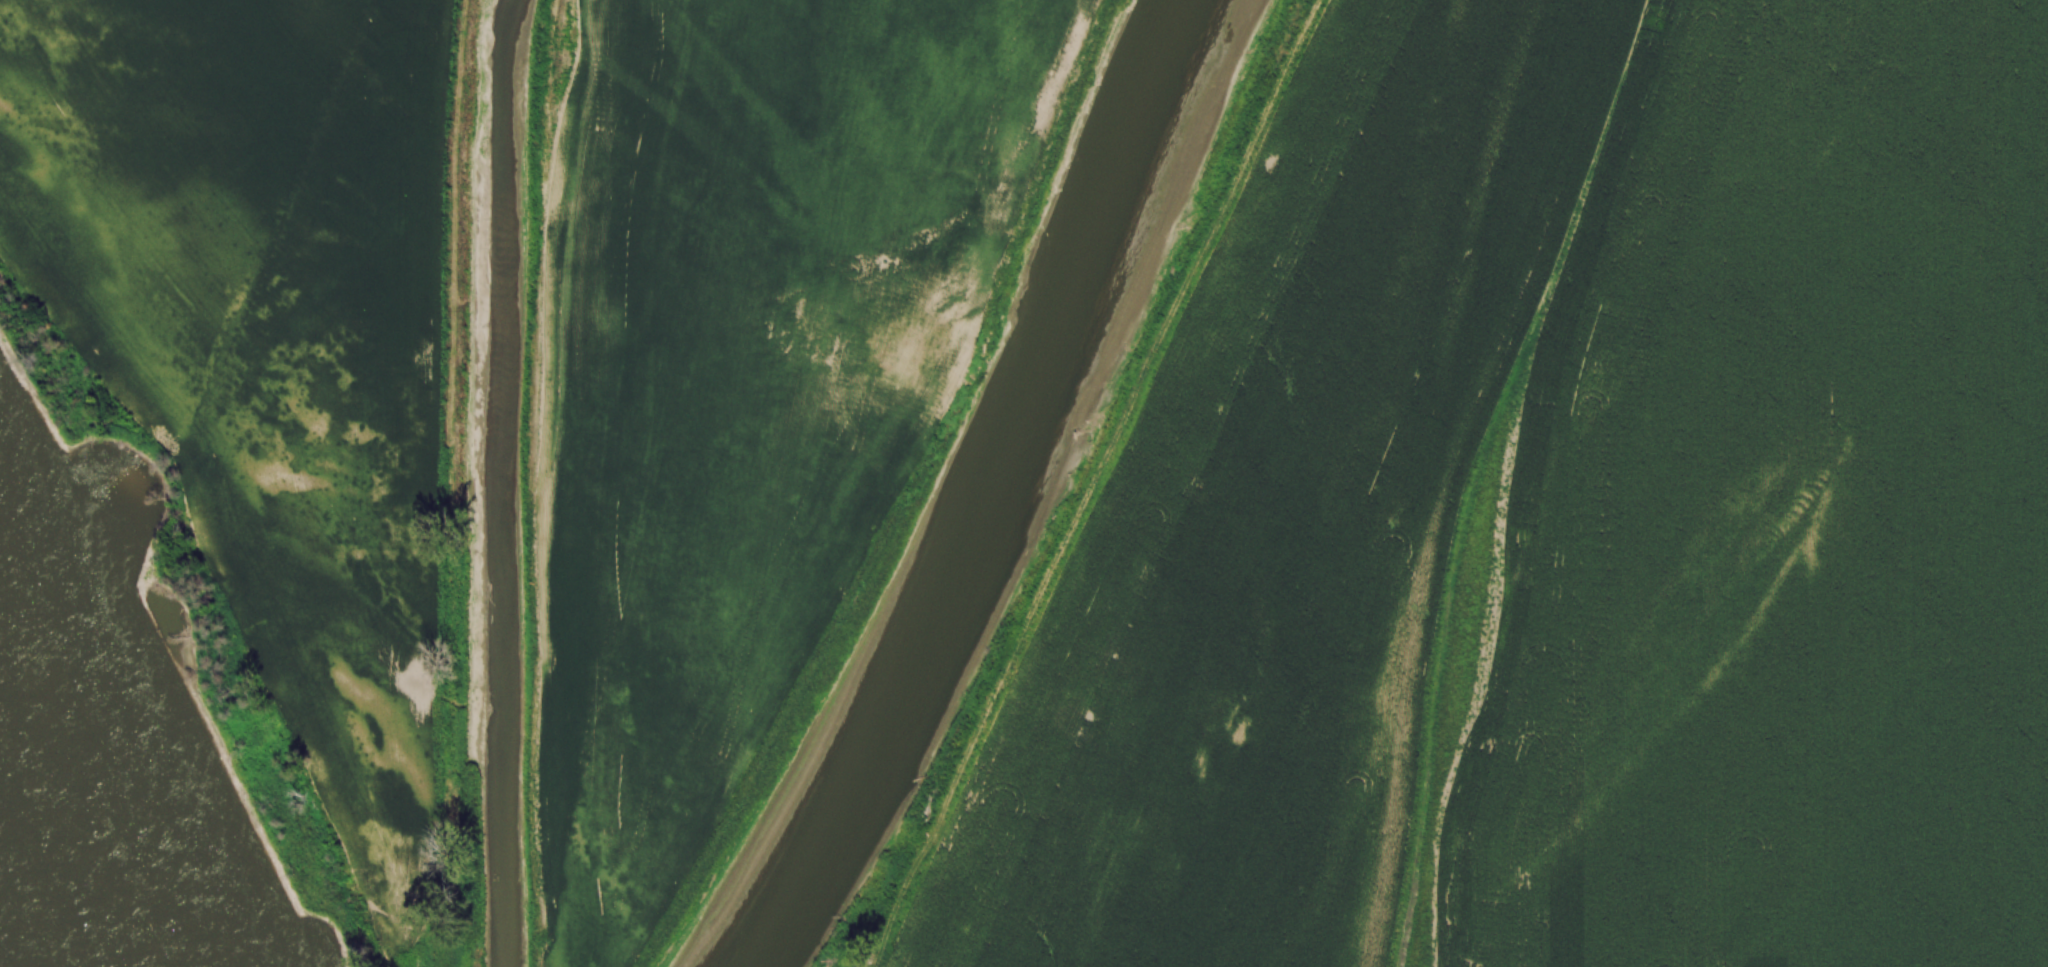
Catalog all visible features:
river: (994, 489)
river: (11, 936)

